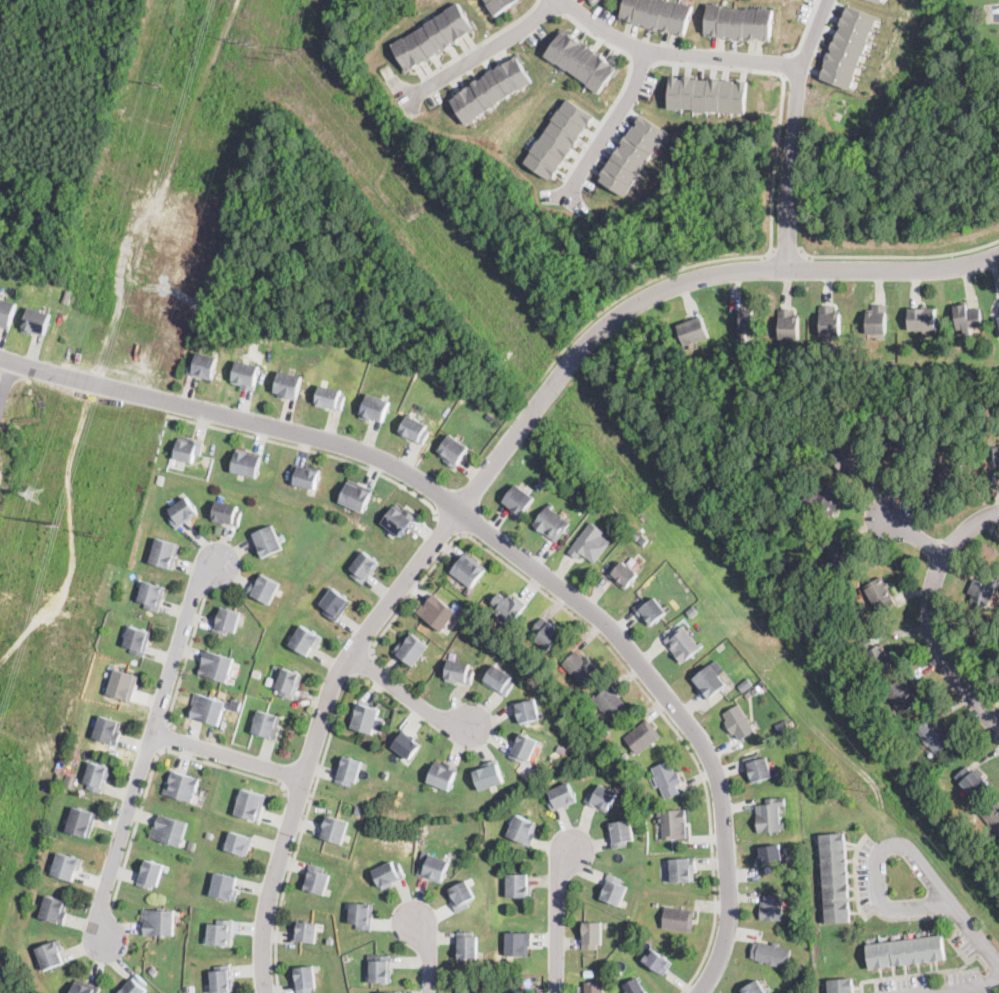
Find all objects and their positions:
building: (881, 0)
building: (593, 1)
building: (499, 4)
road: (997, 11)
building: (656, 13)
building: (737, 21)
road: (803, 30)
building: (433, 36)
road: (480, 40)
power tower: (244, 42)
building: (848, 45)
road: (482, 47)
road: (673, 51)
power tower: (287, 54)
building: (581, 59)
road: (639, 60)
road: (700, 64)
power tower: (155, 82)
road: (621, 86)
building: (490, 88)
building: (707, 93)
road: (609, 125)
road: (792, 131)
building: (559, 137)
building: (633, 153)
road: (774, 168)
road: (785, 253)
road: (902, 255)
road: (637, 285)
building: (67, 295)
building: (6, 311)
building: (967, 316)
building: (998, 316)
building: (922, 317)
building: (876, 318)
building: (830, 319)
building: (35, 320)
building: (745, 321)
building: (789, 323)
building: (693, 328)
building: (202, 366)
building: (245, 374)
road: (7, 384)
building: (288, 385)
building: (329, 397)
building: (374, 408)
power tower: (588, 425)
building: (413, 430)
building: (899, 443)
road: (308, 448)
building: (188, 449)
building: (451, 450)
building: (997, 454)
building: (850, 457)
building: (246, 463)
road: (491, 465)
building: (948, 472)
building: (306, 478)
building: (540, 484)
power tower: (33, 489)
building: (581, 490)
building: (355, 496)
building: (518, 500)
building: (823, 500)
building: (182, 511)
building: (227, 511)
building: (397, 519)
power tower: (59, 520)
road: (446, 522)
building: (551, 522)
power tower: (99, 532)
building: (635, 534)
road: (916, 534)
building: (642, 539)
building: (830, 539)
building: (267, 541)
building: (590, 543)
road: (502, 546)
building: (788, 549)
building: (164, 553)
building: (840, 554)
building: (363, 567)
building: (468, 569)
building: (623, 574)
building: (264, 588)
building: (983, 589)
building: (468, 590)
road: (412, 592)
building: (880, 593)
building: (151, 595)
building: (335, 604)
building: (474, 604)
building: (509, 605)
building: (650, 611)
building: (692, 611)
building: (437, 612)
road: (931, 616)
building: (226, 620)
building: (546, 632)
building: (137, 638)
building: (305, 639)
building: (682, 644)
building: (553, 646)
building: (411, 649)
building: (876, 654)
road: (184, 659)
road: (363, 662)
building: (217, 666)
building: (580, 668)
building: (459, 672)
building: (744, 673)
building: (499, 679)
building: (708, 682)
building: (289, 683)
building: (122, 684)
building: (755, 691)
building: (748, 693)
building: (902, 694)
road: (408, 695)
building: (611, 702)
building: (208, 708)
building: (527, 710)
building: (864, 714)
building: (364, 717)
building: (738, 722)
building: (267, 724)
road: (670, 724)
building: (107, 730)
building: (606, 732)
building: (936, 733)
building: (642, 736)
road: (170, 737)
building: (793, 740)
building: (406, 745)
road: (148, 746)
building: (523, 747)
building: (76, 749)
building: (624, 754)
road: (227, 756)
building: (903, 759)
road: (154, 761)
building: (757, 768)
building: (348, 770)
building: (385, 773)
building: (442, 774)
building: (488, 775)
building: (96, 776)
building: (72, 779)
building: (667, 779)
building: (972, 781)
power tower: (877, 784)
building: (181, 785)
road: (298, 793)
building: (561, 796)
building: (601, 797)
building: (250, 805)
building: (770, 815)
building: (992, 816)
building: (81, 822)
building: (673, 823)
building: (334, 828)
building: (169, 829)
road: (300, 830)
building: (522, 830)
building: (209, 833)
building: (620, 833)
power tower: (9, 837)
building: (239, 843)
building: (424, 854)
building: (770, 854)
road: (876, 860)
building: (66, 866)
building: (433, 868)
building: (682, 869)
building: (150, 874)
building: (388, 874)
building: (834, 876)
building: (316, 879)
building: (517, 885)
building: (224, 886)
building: (613, 890)
building: (461, 896)
building: (655, 904)
building: (772, 908)
building: (53, 910)
building: (361, 914)
road: (558, 918)
building: (678, 919)
building: (158, 921)
building: (220, 932)
building: (305, 932)
building: (591, 934)
road: (972, 934)
building: (330, 940)
building: (467, 944)
building: (518, 944)
building: (906, 951)
road: (427, 953)
building: (771, 953)
building: (49, 954)
building: (657, 961)
building: (380, 968)
building: (153, 969)
building: (588, 972)
building: (221, 979)
building: (304, 979)
building: (134, 985)
building: (841, 985)
building: (595, 987)
building: (634, 987)
building: (84, 988)
building: (755, 988)
road: (970, 988)
building: (467, 989)
building: (539, 990)
building: (385, 992)
building: (518, 992)

